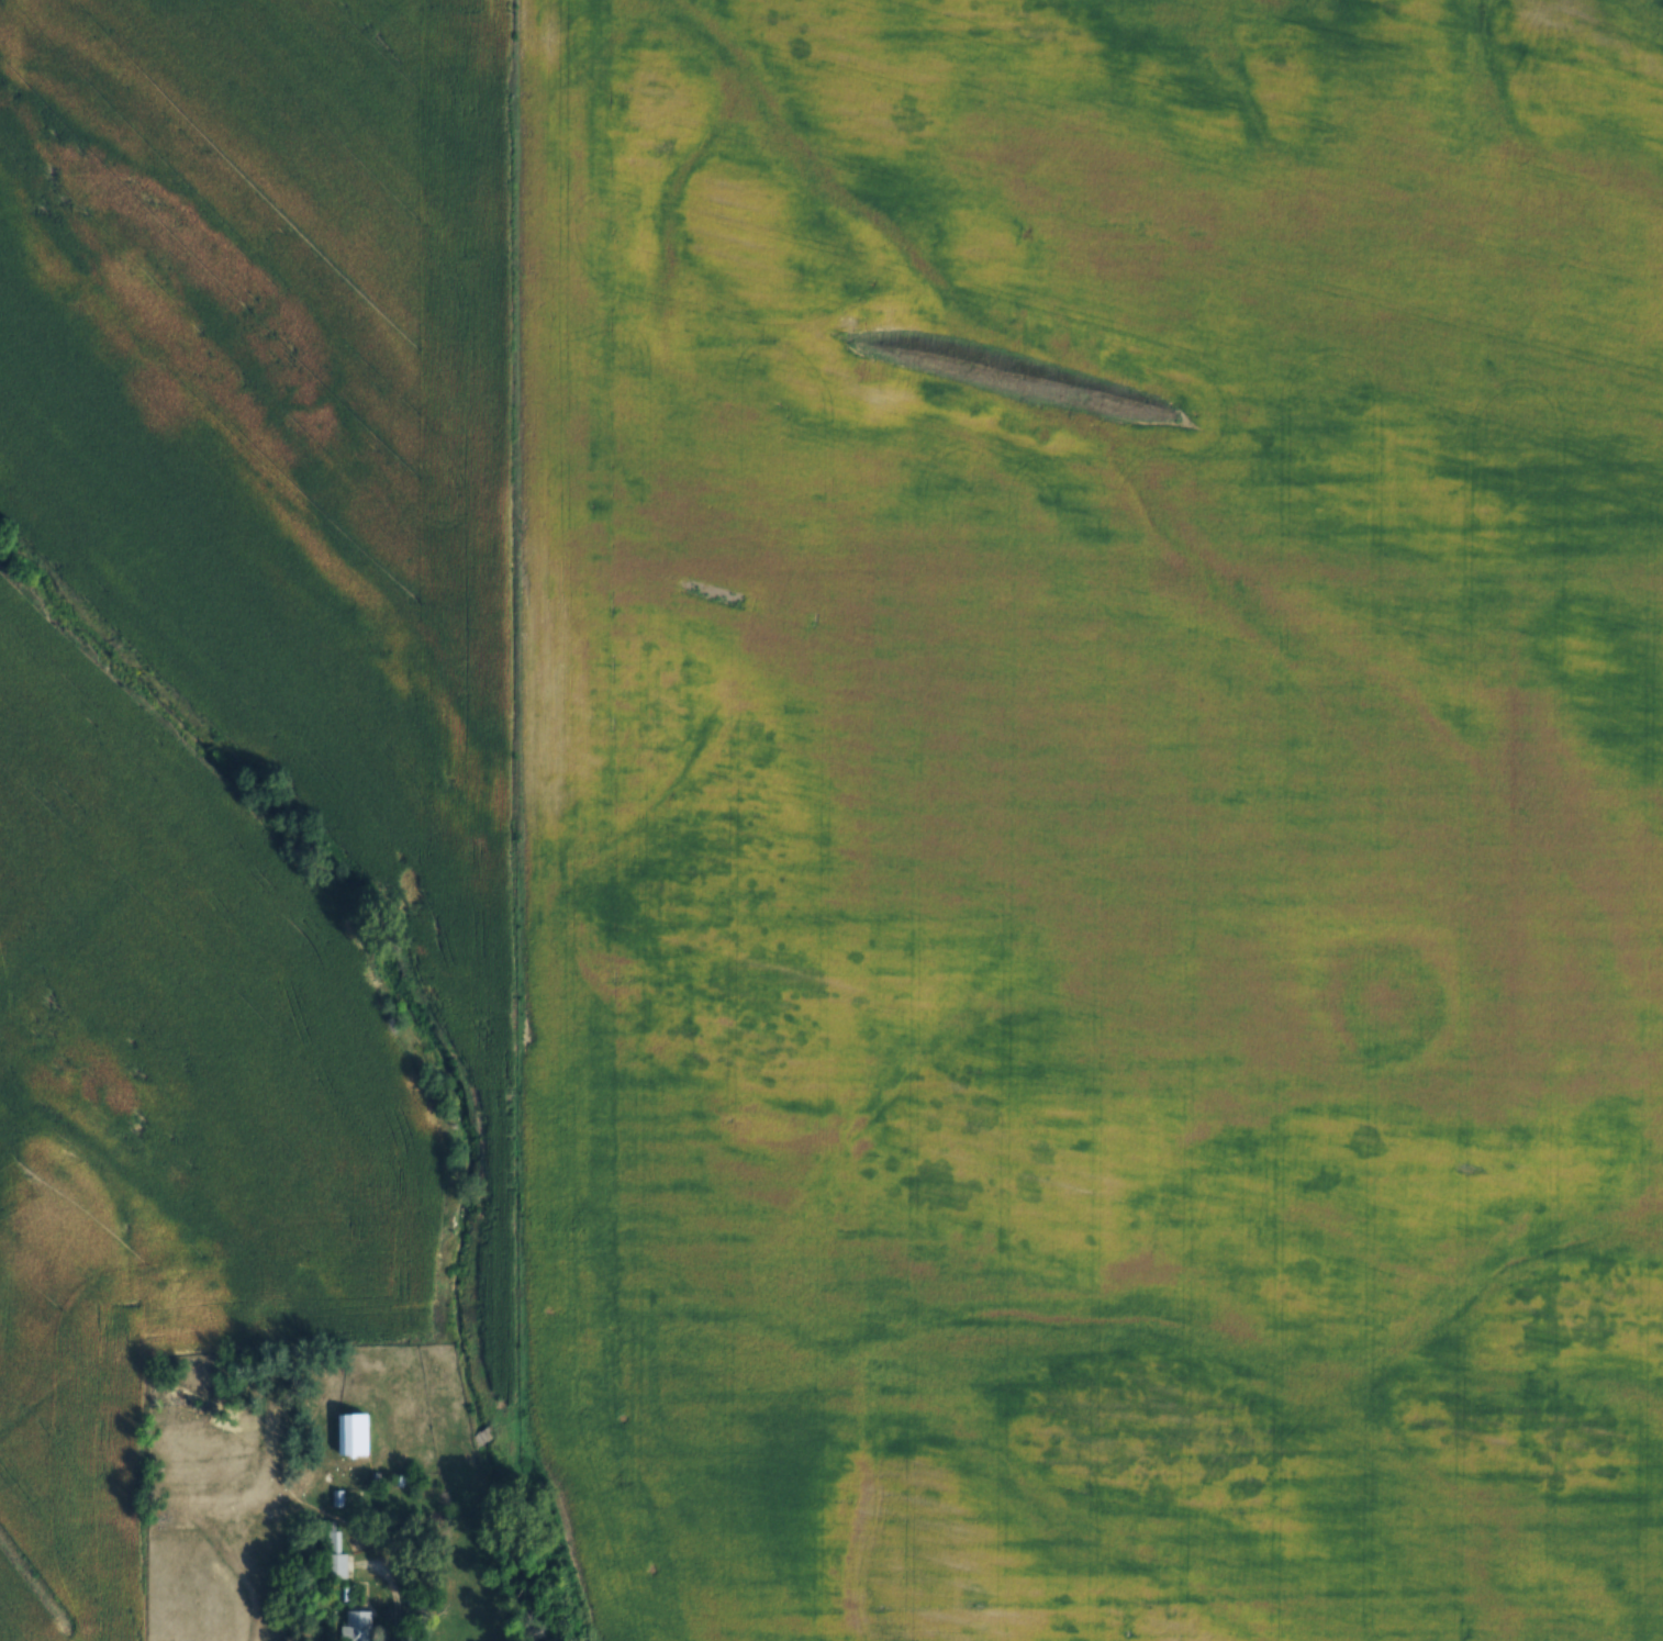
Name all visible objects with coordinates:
building: (351, 1430)
building: (480, 1432)
building: (332, 1548)
road: (392, 1592)
building: (354, 1623)

